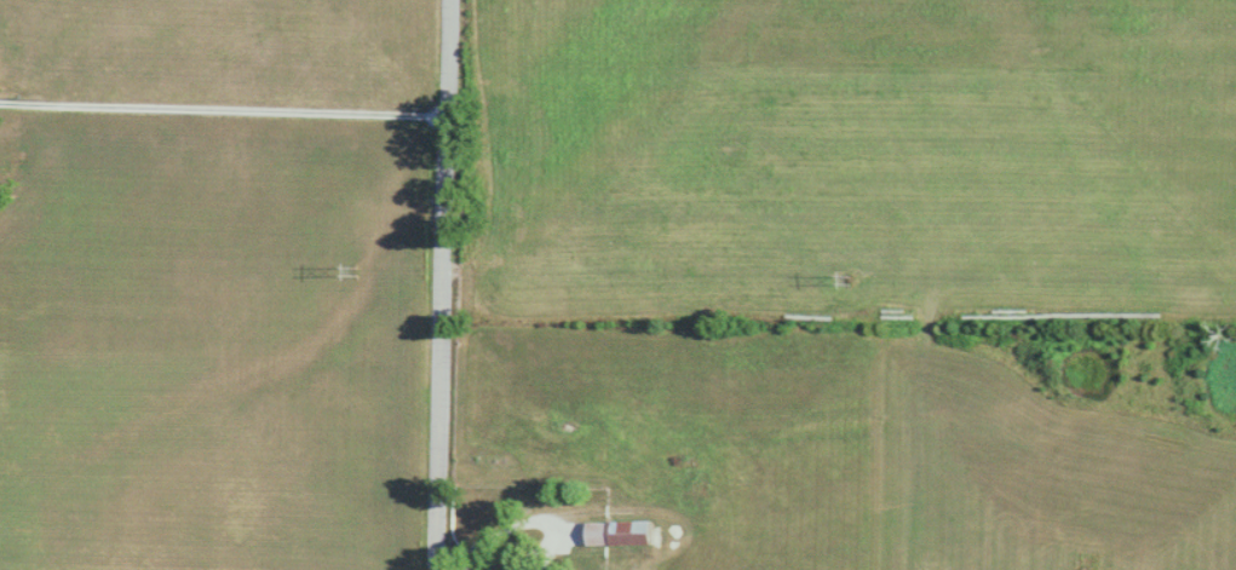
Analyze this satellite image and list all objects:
road: (220, 106)
power tower: (355, 267)
power tower: (847, 280)
road: (441, 284)
building: (620, 532)

